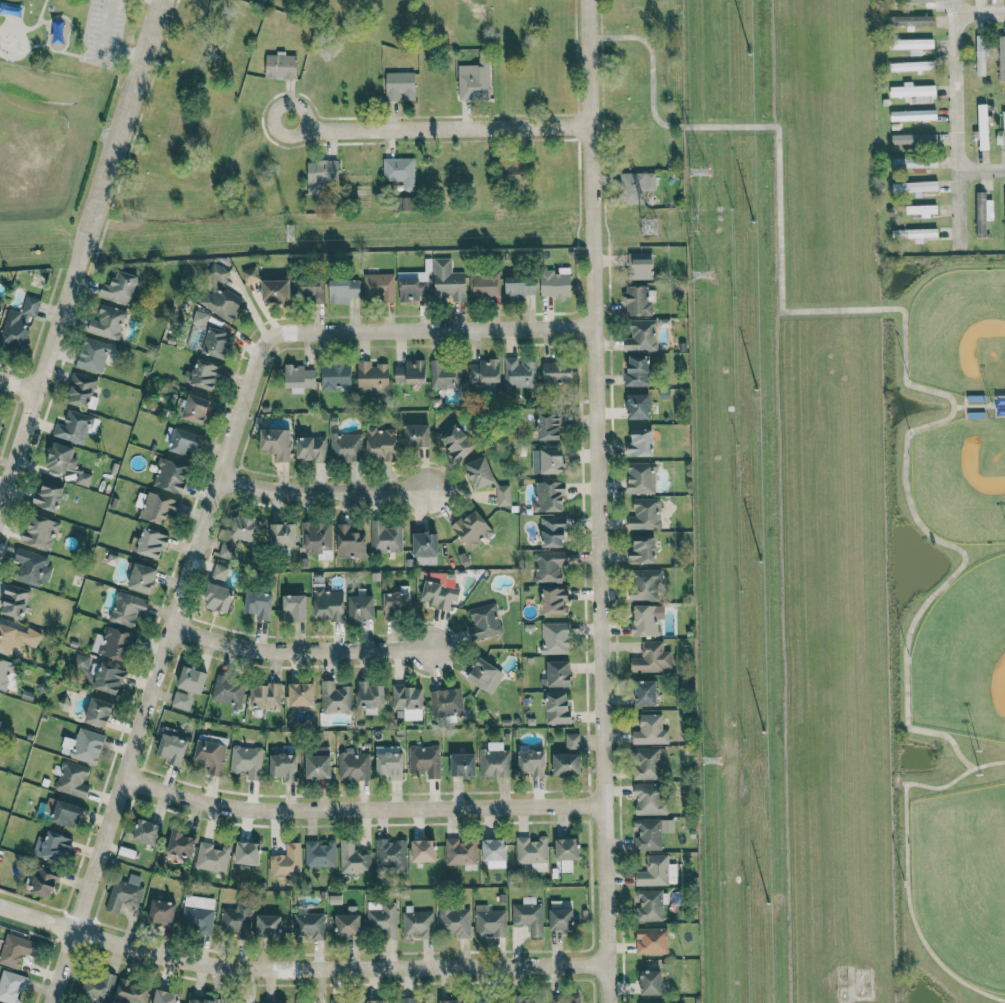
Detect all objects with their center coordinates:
road: (978, 12)
building: (909, 20)
road: (101, 43)
building: (911, 45)
building: (980, 55)
building: (1001, 58)
building: (911, 65)
building: (280, 66)
building: (474, 79)
building: (400, 86)
building: (913, 91)
building: (913, 115)
building: (1003, 122)
road: (954, 125)
building: (982, 126)
road: (436, 128)
building: (914, 139)
building: (914, 162)
power tower: (699, 169)
road: (980, 170)
building: (400, 171)
building: (515, 172)
building: (319, 174)
building: (635, 187)
building: (915, 187)
building: (1004, 198)
building: (402, 203)
building: (921, 210)
building: (982, 212)
power tower: (649, 226)
power tower: (289, 233)
building: (916, 233)
road: (80, 258)
building: (639, 265)
power tower: (701, 272)
building: (250, 275)
building: (448, 280)
building: (486, 283)
building: (554, 283)
building: (377, 286)
building: (414, 286)
building: (519, 286)
building: (309, 287)
building: (119, 288)
building: (276, 289)
building: (341, 290)
building: (219, 296)
building: (638, 301)
building: (1, 304)
building: (200, 318)
building: (107, 322)
building: (18, 324)
road: (903, 332)
building: (641, 335)
building: (218, 342)
building: (93, 355)
building: (637, 370)
building: (484, 371)
building: (410, 372)
building: (556, 372)
building: (206, 373)
building: (519, 373)
building: (444, 375)
building: (335, 376)
building: (298, 378)
building: (372, 378)
road: (20, 381)
building: (81, 389)
building: (638, 406)
building: (197, 408)
building: (0, 419)
building: (549, 426)
building: (73, 427)
building: (416, 435)
building: (184, 441)
building: (276, 442)
building: (457, 442)
building: (380, 443)
building: (639, 443)
building: (346, 447)
building: (311, 448)
building: (61, 458)
building: (546, 461)
building: (170, 475)
building: (83, 478)
building: (640, 478)
park: (960, 479)
building: (48, 496)
building: (548, 496)
road: (318, 501)
road: (597, 501)
building: (157, 505)
road: (207, 513)
building: (645, 514)
building: (245, 528)
building: (472, 529)
building: (41, 531)
building: (552, 531)
building: (282, 534)
building: (315, 536)
building: (385, 537)
building: (350, 542)
building: (152, 544)
building: (425, 544)
building: (227, 549)
building: (642, 549)
building: (549, 565)
building: (32, 567)
building: (220, 571)
building: (142, 578)
building: (644, 584)
building: (439, 593)
building: (217, 597)
building: (14, 600)
building: (553, 600)
building: (258, 604)
building: (328, 604)
building: (395, 604)
building: (293, 607)
building: (360, 607)
building: (127, 608)
building: (645, 619)
building: (484, 621)
park: (947, 629)
building: (16, 638)
building: (554, 638)
building: (117, 645)
road: (298, 655)
park: (963, 656)
building: (652, 658)
building: (81, 662)
building: (5, 672)
building: (481, 673)
building: (557, 674)
building: (109, 678)
building: (188, 687)
building: (228, 691)
building: (644, 693)
building: (301, 694)
building: (265, 695)
building: (369, 695)
building: (335, 698)
building: (408, 701)
building: (446, 702)
building: (557, 708)
building: (99, 712)
building: (650, 730)
building: (572, 742)
power tower: (710, 743)
building: (88, 745)
building: (172, 749)
building: (210, 755)
building: (425, 760)
building: (494, 760)
building: (246, 761)
building: (531, 762)
building: (318, 763)
building: (389, 763)
building: (647, 763)
building: (462, 764)
building: (566, 764)
building: (353, 765)
building: (284, 766)
building: (72, 777)
building: (649, 799)
road: (233, 804)
road: (476, 809)
building: (66, 814)
building: (146, 832)
building: (651, 832)
building: (181, 844)
building: (55, 847)
building: (423, 850)
building: (460, 852)
building: (532, 852)
building: (566, 852)
building: (247, 853)
building: (320, 853)
building: (494, 853)
building: (390, 855)
building: (212, 857)
building: (353, 858)
building: (286, 861)
road: (904, 864)
building: (656, 871)
park: (962, 880)
building: (44, 881)
building: (124, 893)
building: (649, 905)
building: (161, 912)
building: (197, 914)
building: (528, 915)
building: (383, 919)
building: (560, 919)
building: (236, 921)
building: (454, 921)
building: (489, 922)
building: (417, 924)
building: (267, 925)
building: (309, 925)
building: (347, 925)
building: (651, 941)
building: (16, 948)
road: (298, 975)
building: (650, 982)
building: (11, 986)
building: (97, 986)
building: (130, 992)
building: (165, 996)
building: (564, 998)
building: (481, 999)
building: (527, 999)
building: (408, 1000)
building: (201, 1001)
building: (301, 1001)
building: (336, 1001)
building: (378, 1001)
building: (451, 1001)

